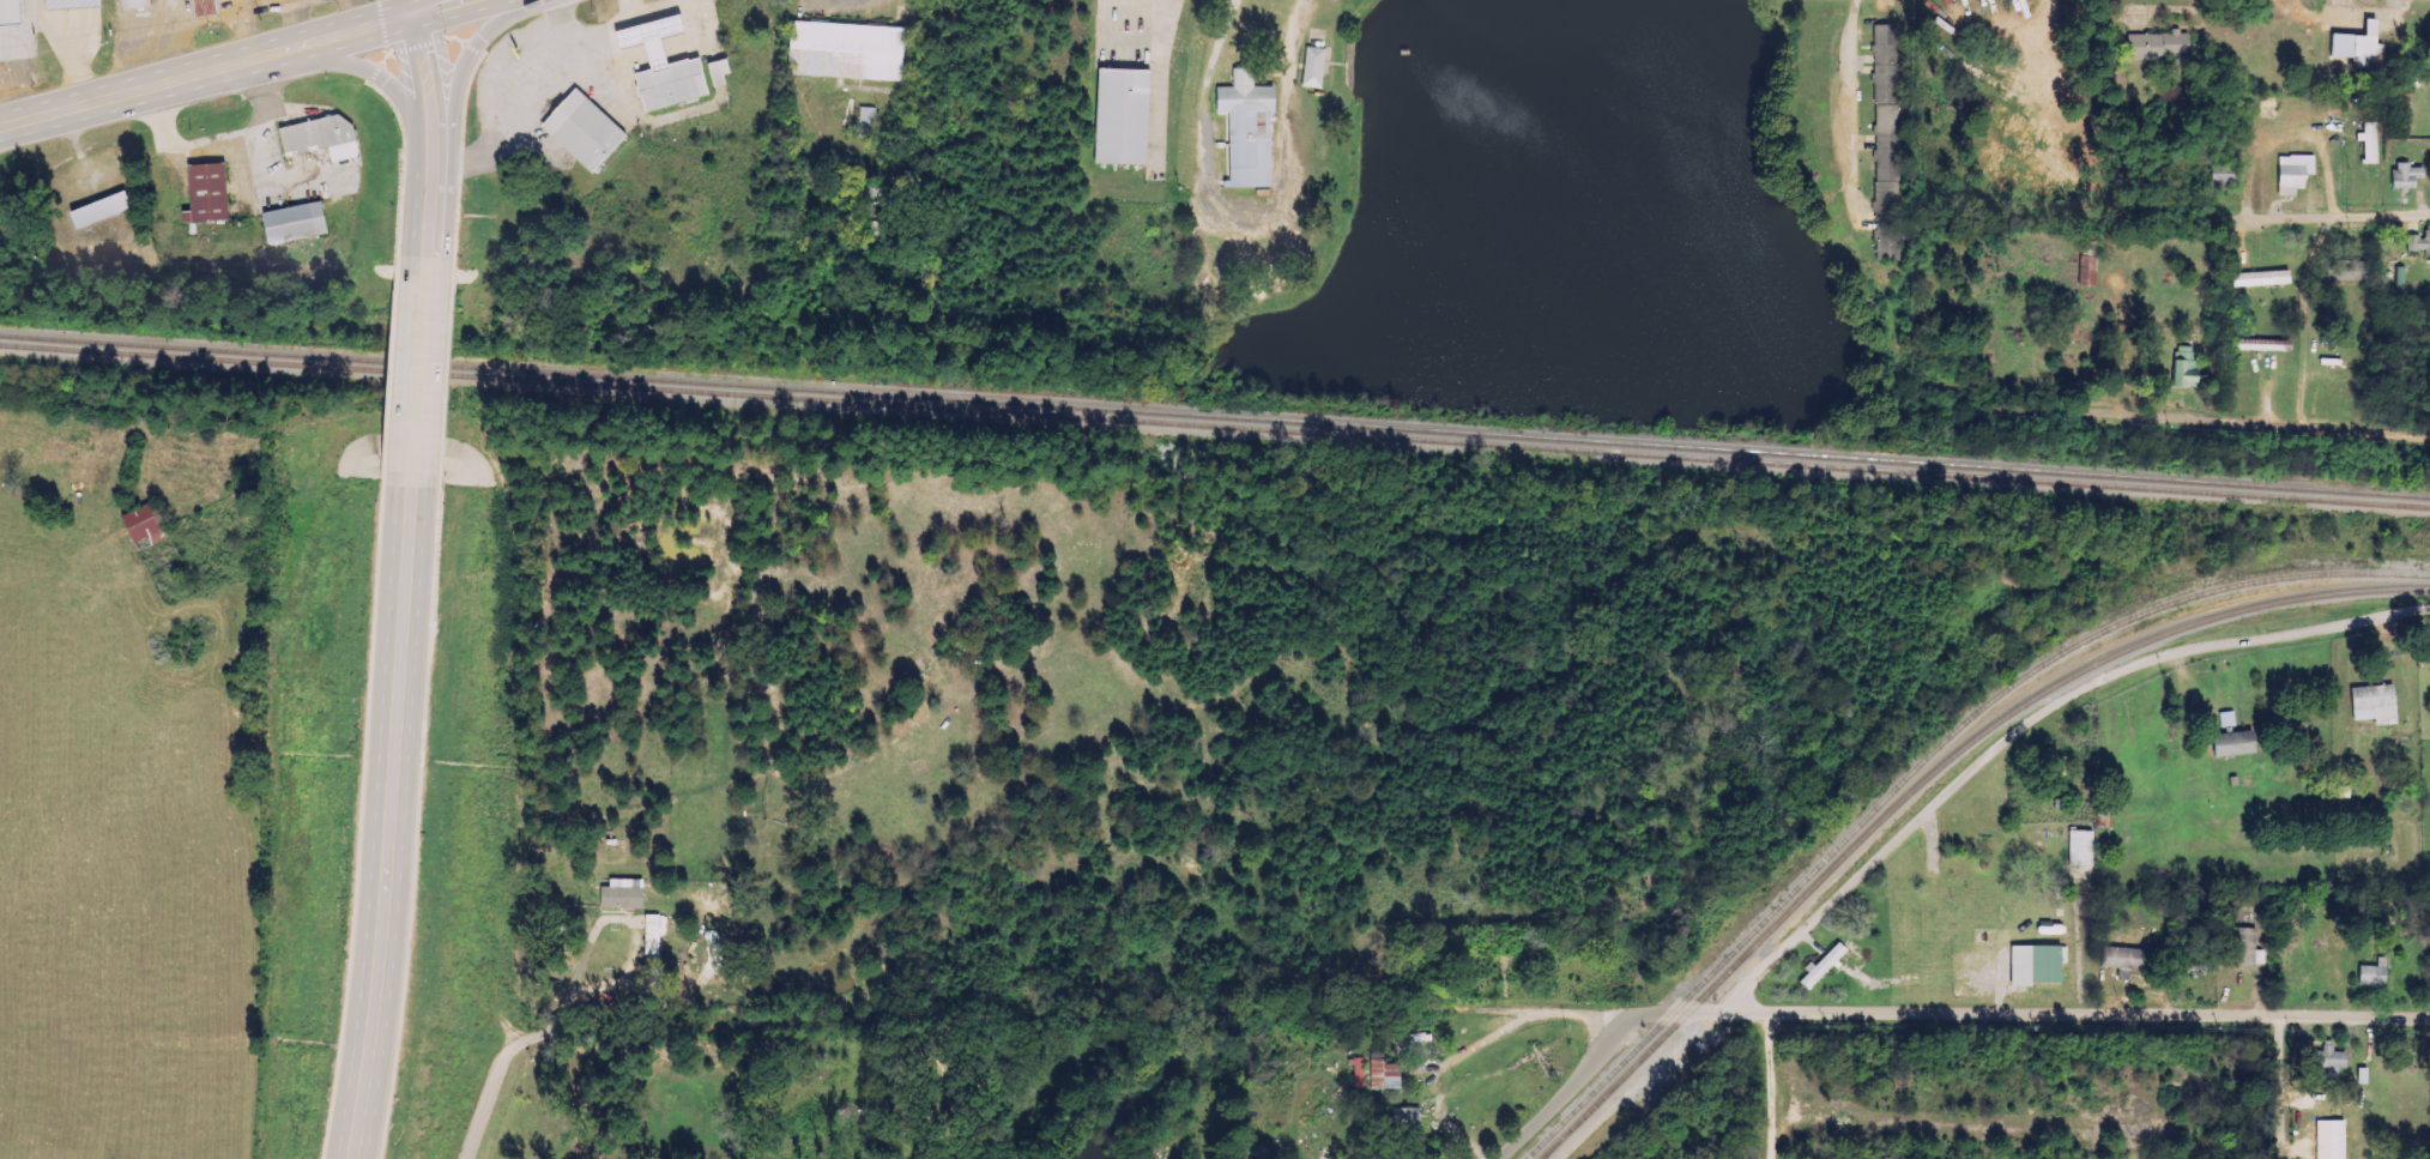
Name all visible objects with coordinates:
building: (68, 4)
building: (132, 4)
road: (441, 5)
building: (202, 7)
building: (7, 11)
traffic signals: (421, 11)
building: (2353, 42)
building: (2153, 44)
building: (844, 50)
building: (659, 66)
building: (1312, 67)
road: (210, 68)
road: (368, 71)
building: (715, 71)
road: (467, 91)
building: (1886, 102)
building: (2401, 102)
road: (1846, 110)
building: (1122, 116)
building: (865, 120)
building: (1245, 129)
building: (592, 133)
building: (319, 137)
building: (2368, 141)
road: (445, 162)
building: (2292, 171)
building: (2404, 175)
building: (2219, 176)
building: (202, 193)
building: (93, 211)
road: (2314, 219)
building: (289, 222)
building: (1888, 241)
building: (2419, 242)
building: (2345, 271)
building: (2260, 278)
building: (2260, 345)
building: (2184, 367)
road: (431, 410)
railway: (1215, 416)
dam: (1534, 417)
railway: (1215, 424)
road: (2285, 427)
building: (144, 525)
building: (2372, 704)
road: (2025, 722)
building: (2226, 722)
building: (2231, 744)
railway: (1922, 762)
building: (2055, 766)
railway: (1929, 775)
road: (412, 833)
building: (2080, 849)
building: (619, 894)
building: (649, 935)
building: (2245, 948)
building: (2127, 959)
building: (2036, 964)
building: (1821, 967)
building: (2371, 974)
road: (1834, 1013)
building: (2327, 1058)
building: (1356, 1073)
building: (1382, 1075)
road: (1570, 1087)
road: (2279, 1087)
building: (1401, 1118)

